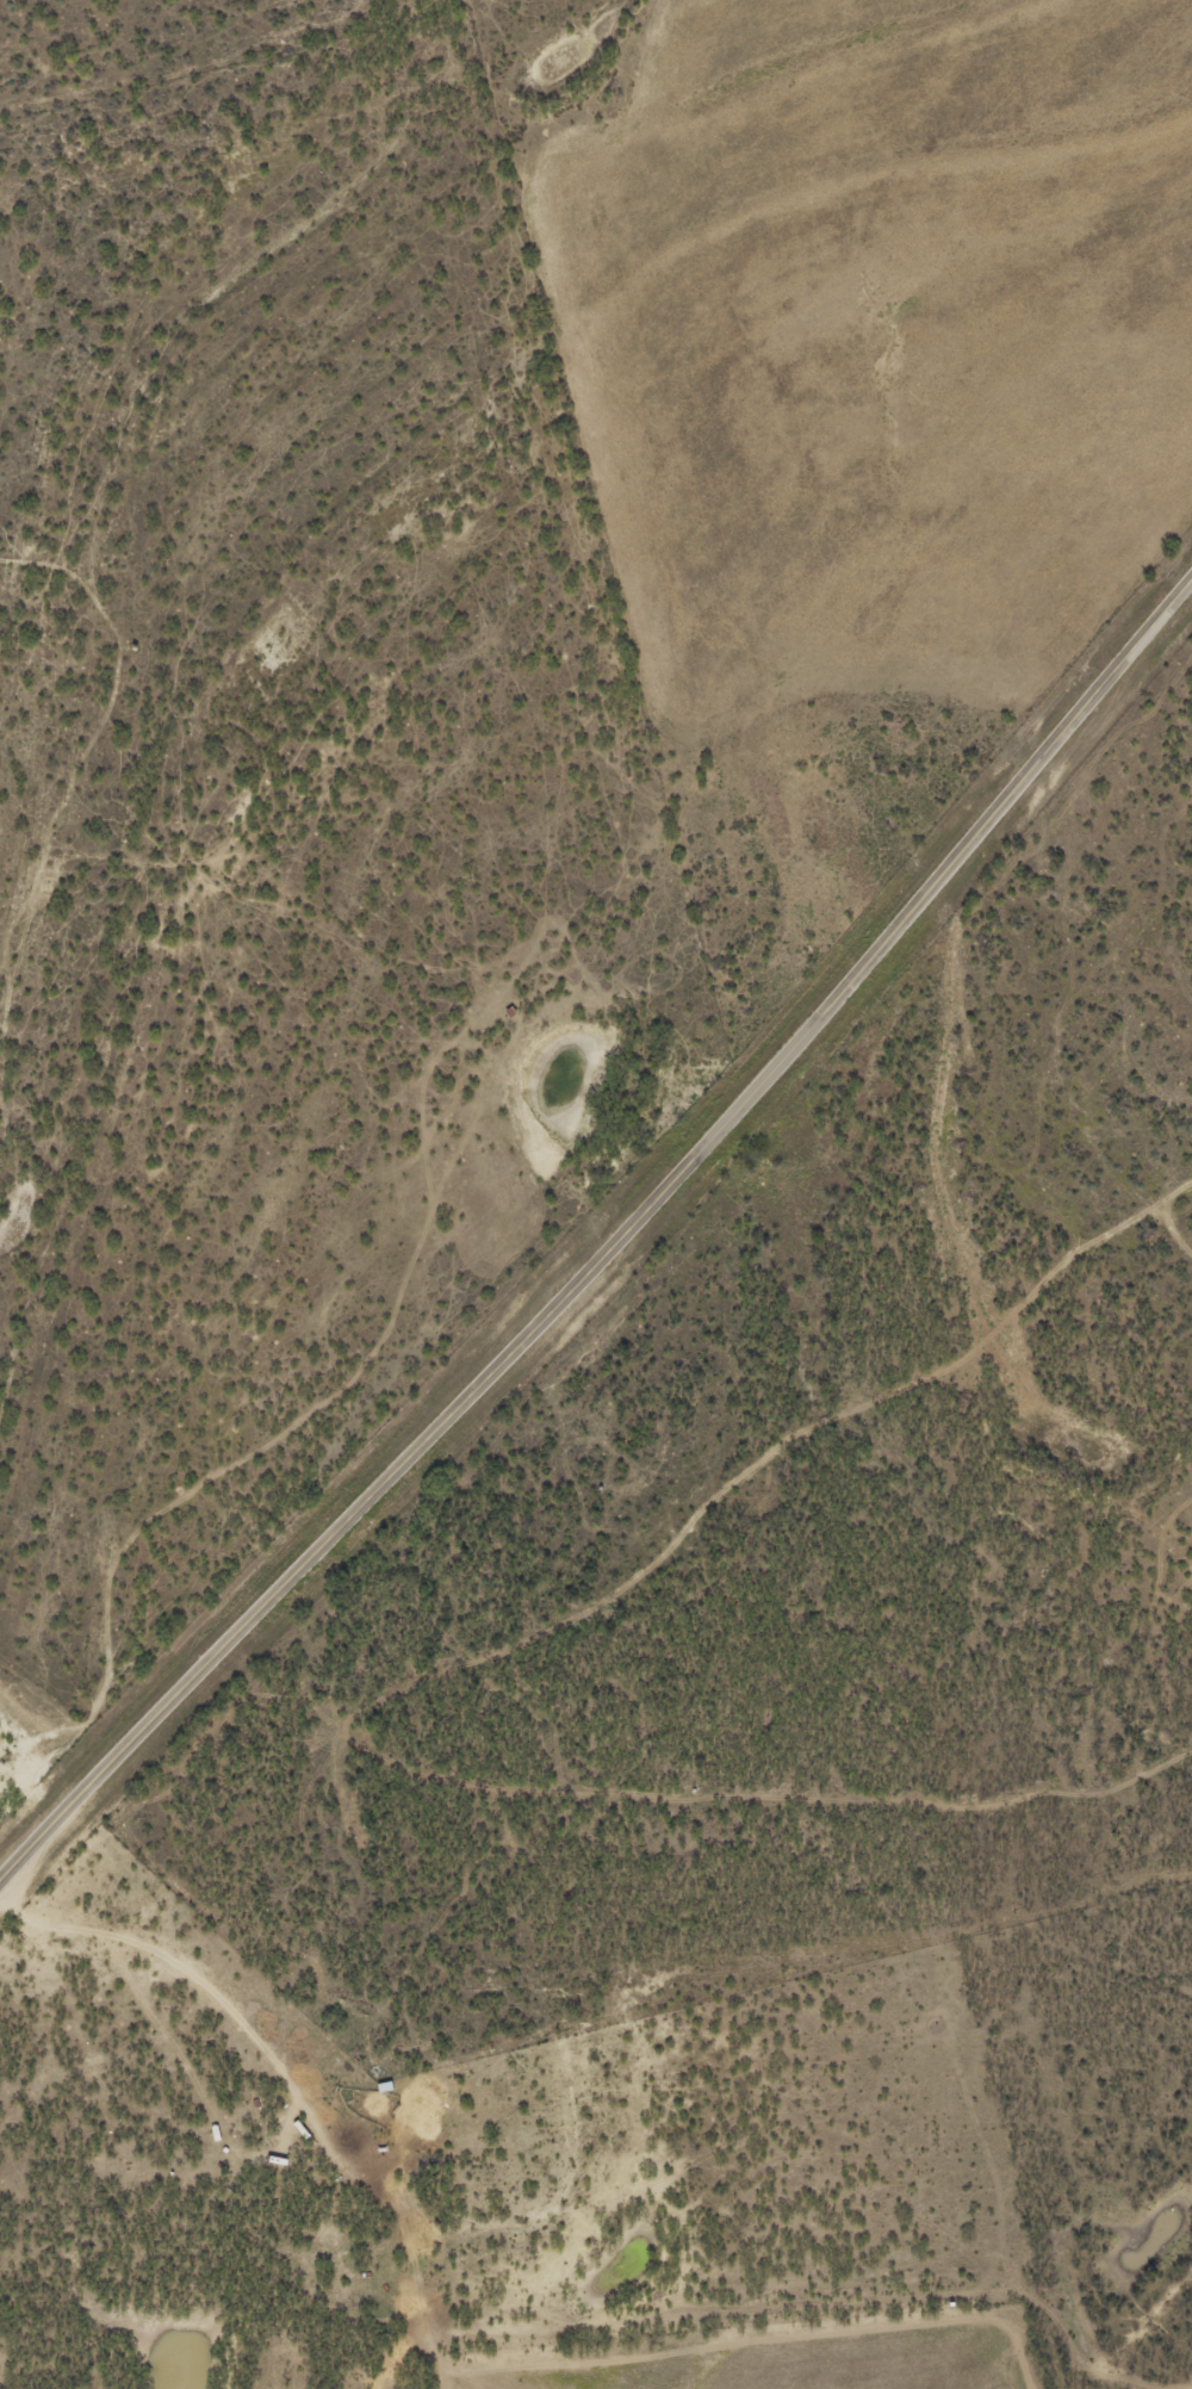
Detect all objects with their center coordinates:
road: (70, 538)
road: (611, 1248)
road: (210, 2011)

